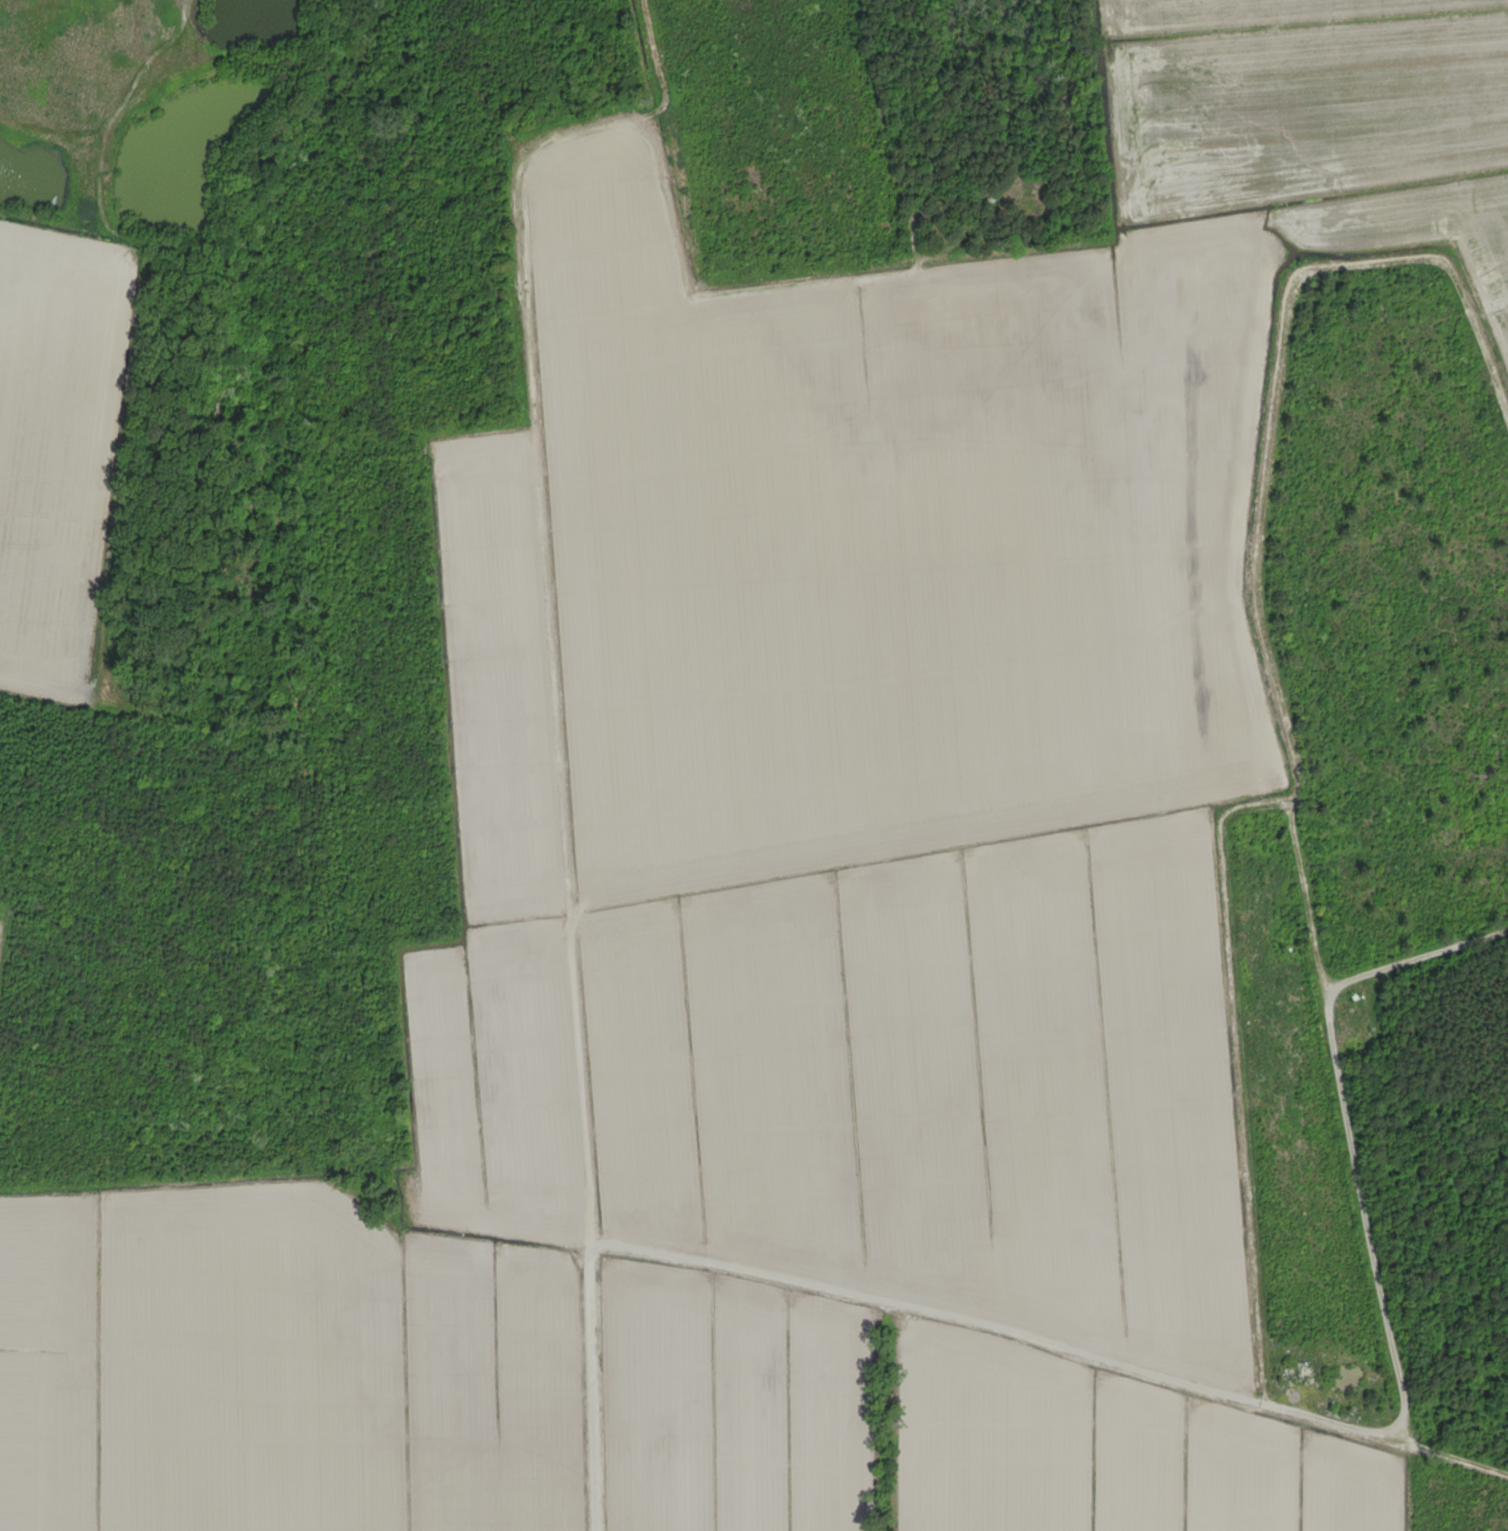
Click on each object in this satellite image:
building: (1352, 1023)

